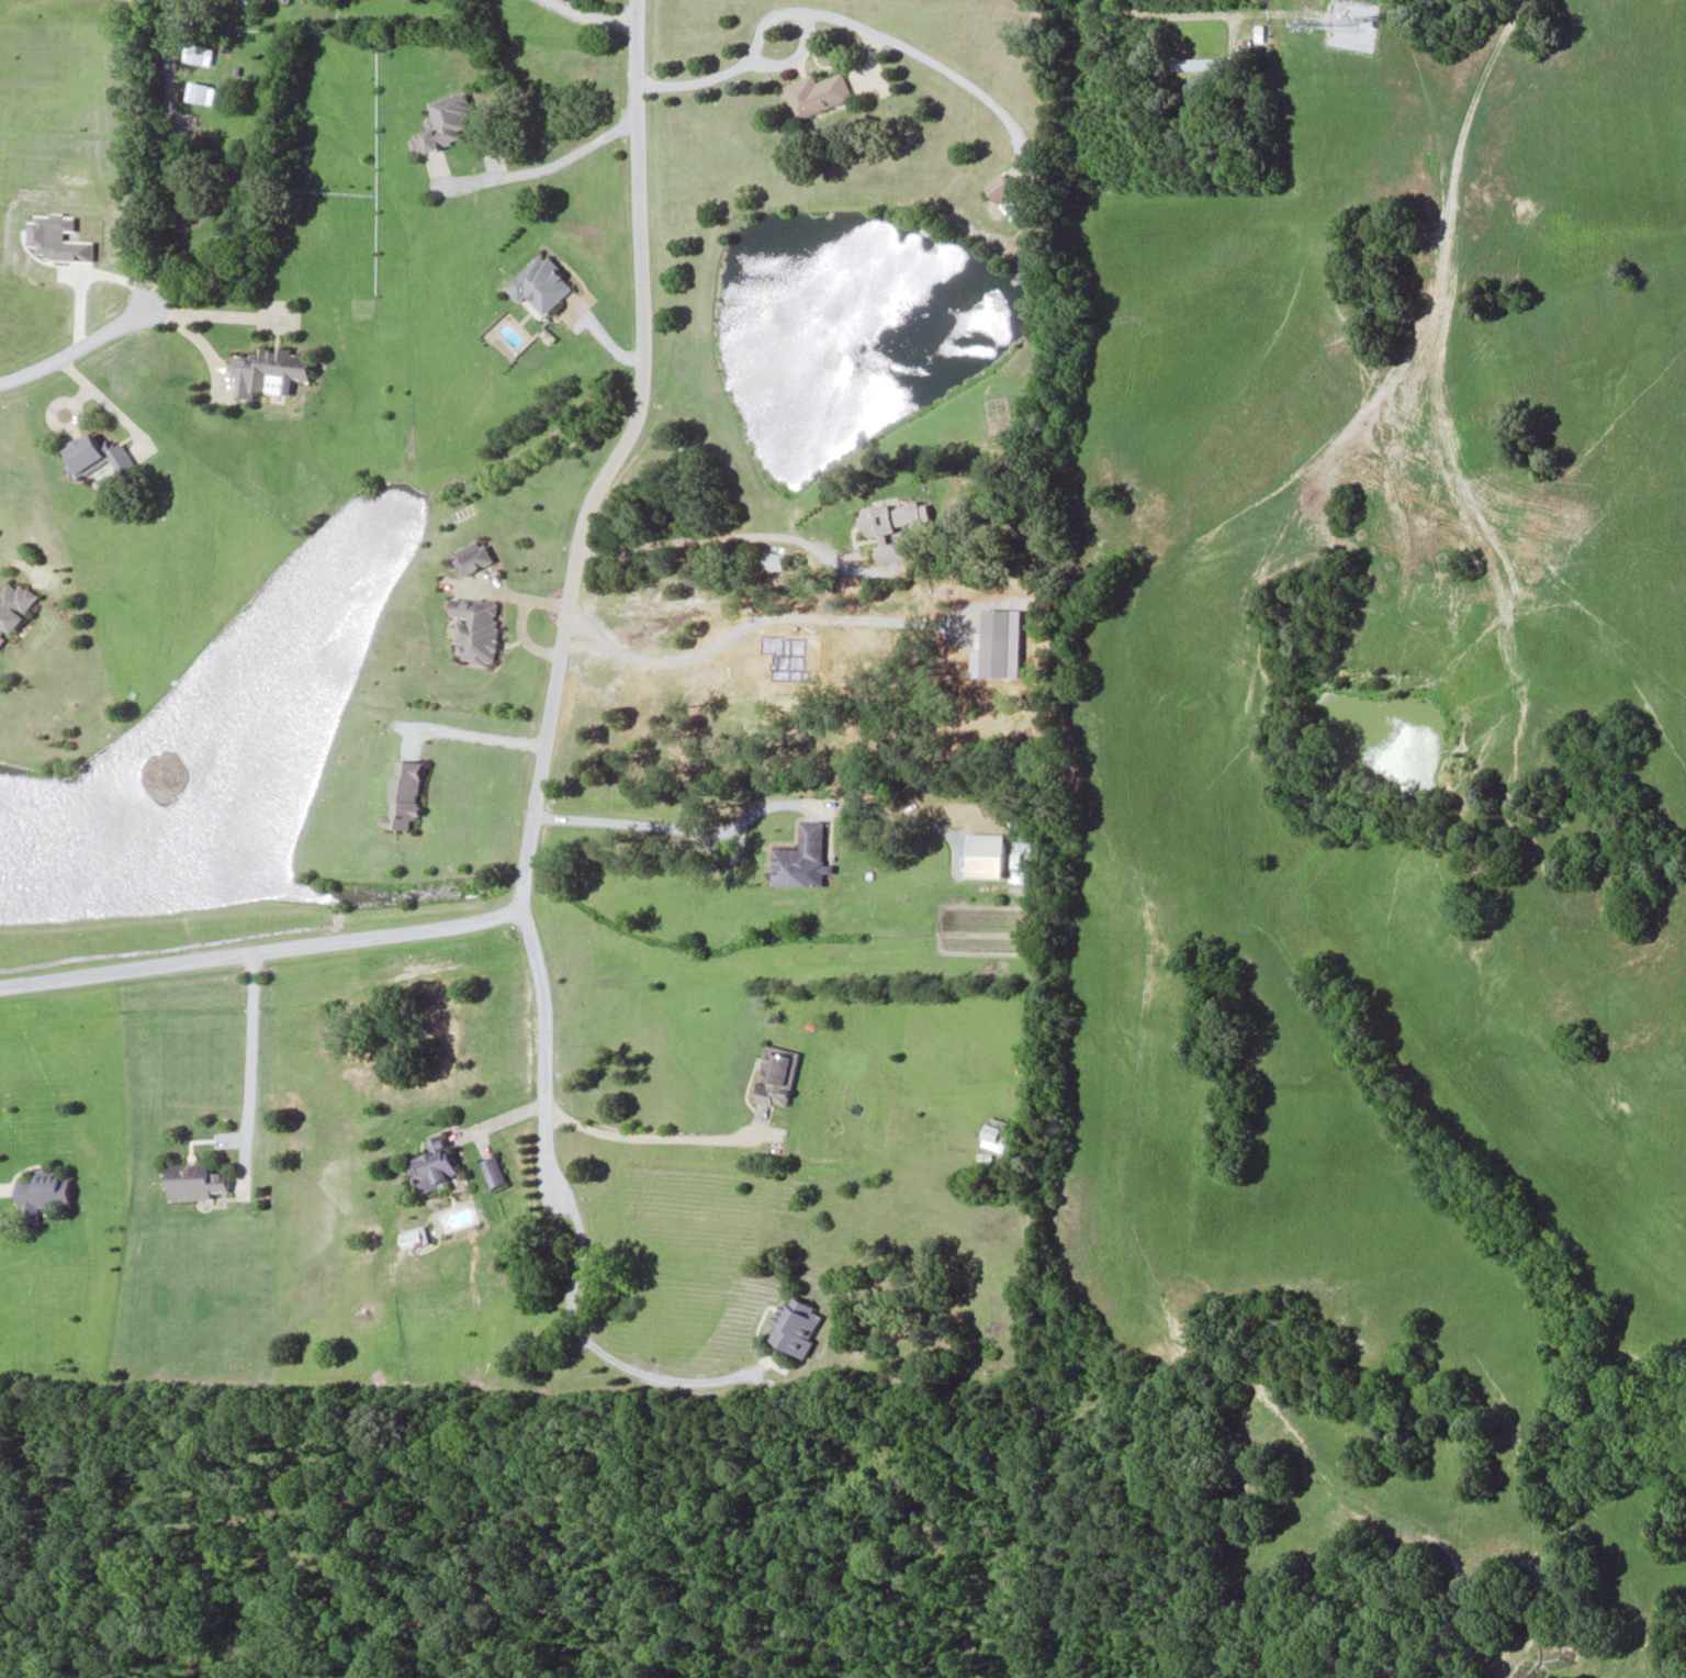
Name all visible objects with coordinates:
building: (1196, 63)
building: (814, 92)
building: (441, 122)
building: (1000, 188)
building: (539, 283)
building: (269, 370)
building: (94, 454)
building: (891, 525)
building: (12, 605)
road: (539, 770)
building: (404, 792)
building: (983, 853)
building: (799, 855)
road: (261, 950)
building: (775, 1075)
building: (993, 1132)
building: (432, 1164)
building: (491, 1171)
building: (192, 1181)
building: (38, 1194)
building: (794, 1328)

